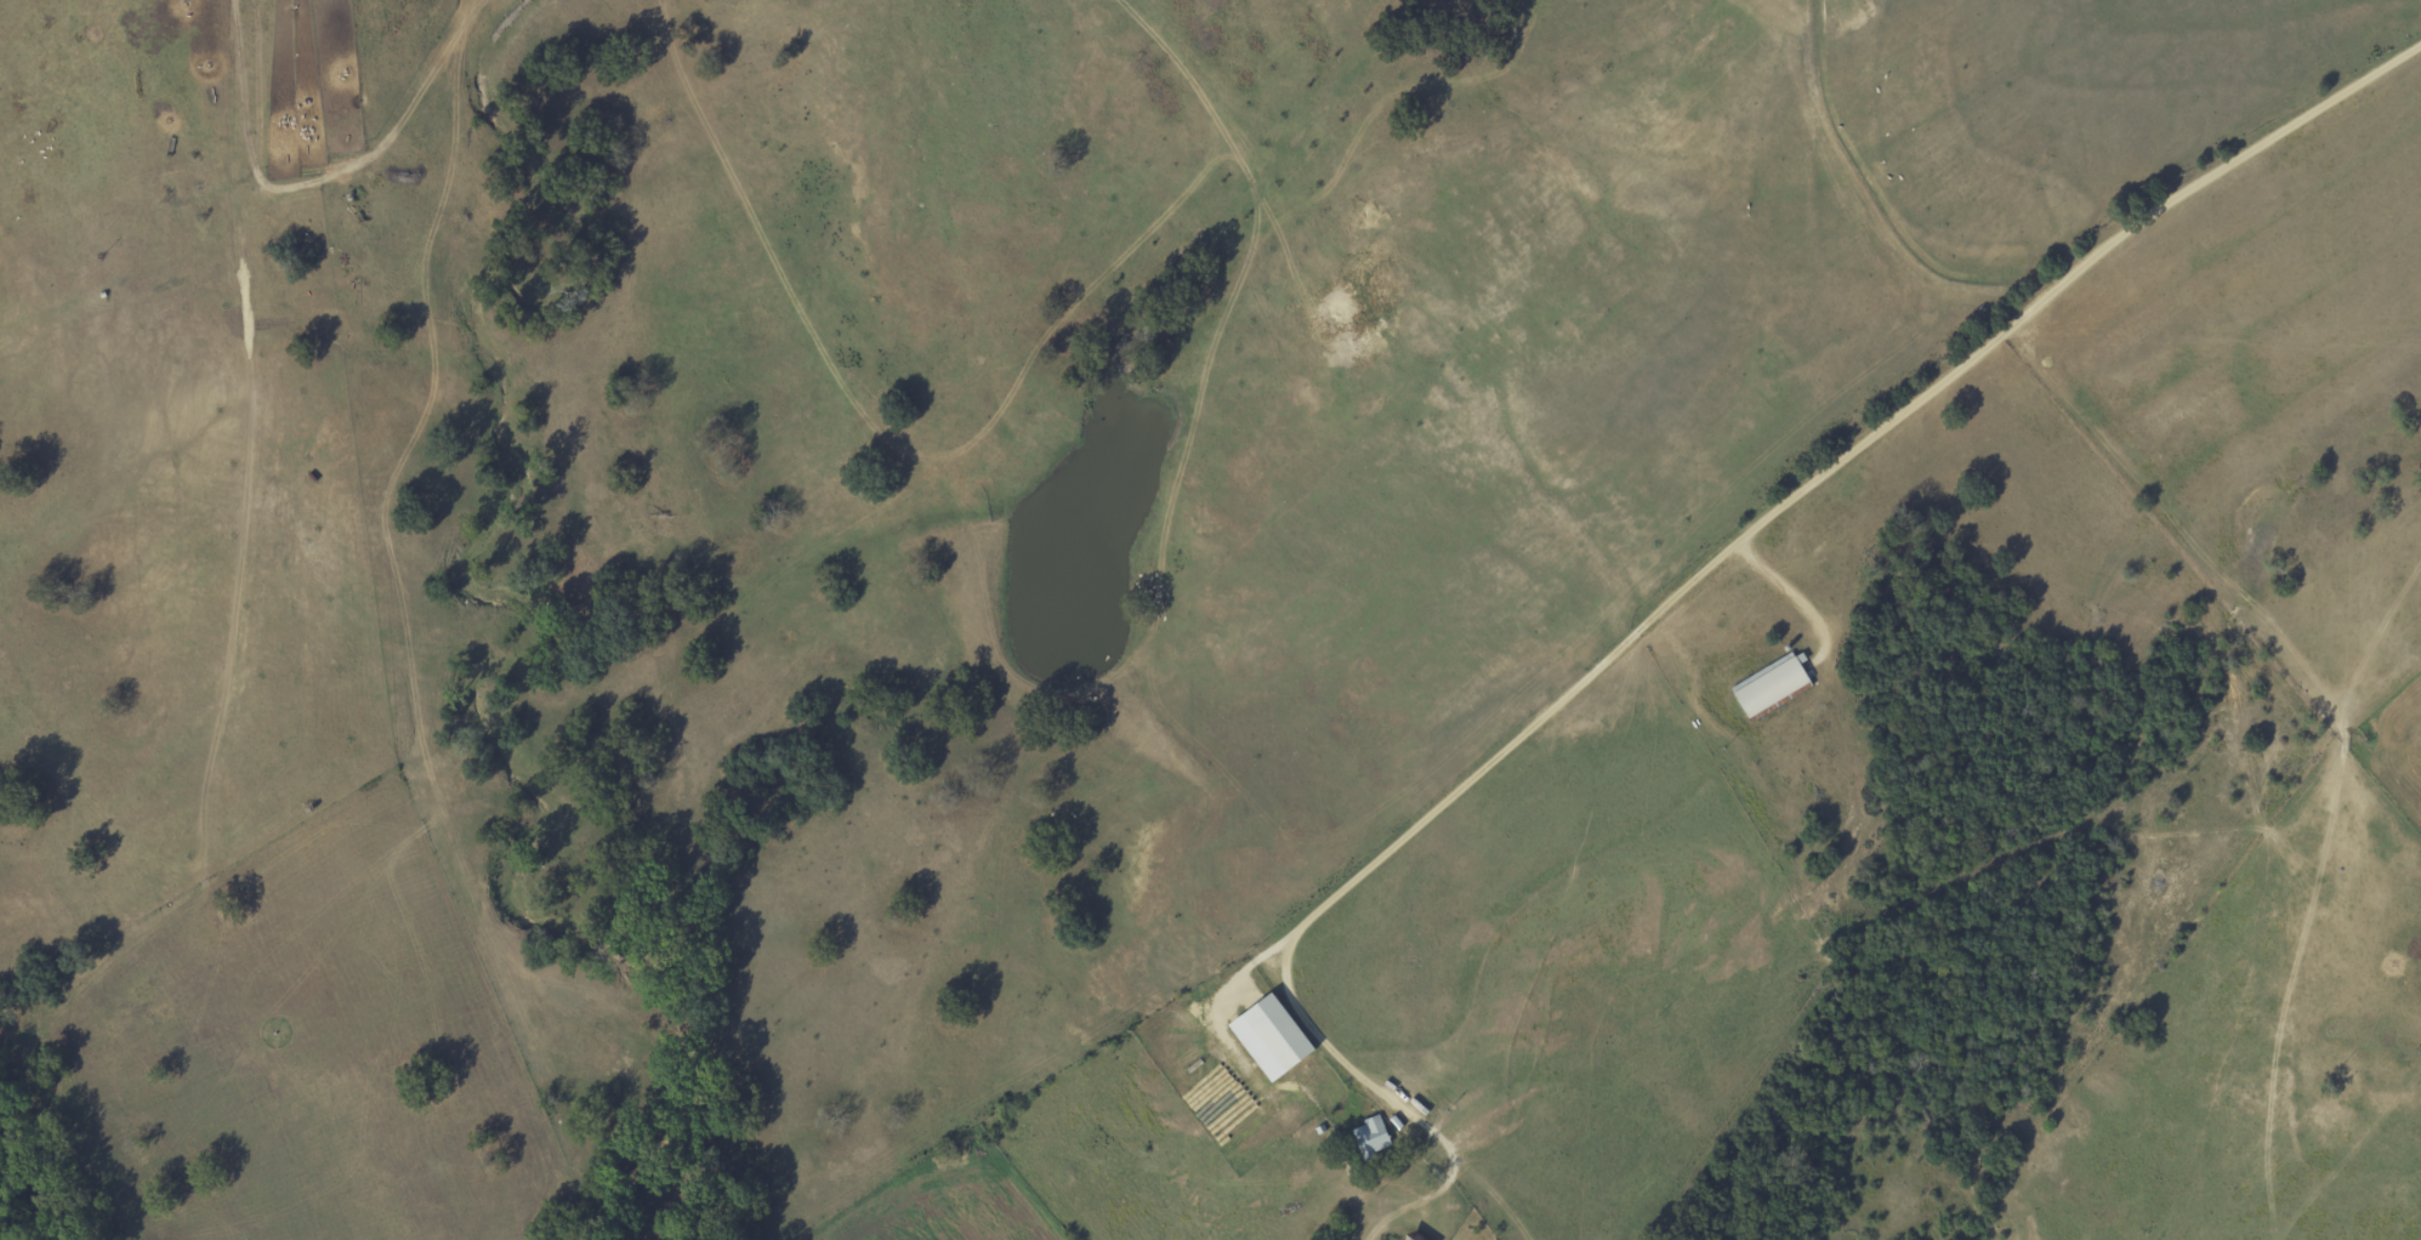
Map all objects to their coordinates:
road: (959, 453)
road: (1763, 522)
road: (1784, 595)
building: (1772, 684)
building: (1275, 1037)
building: (1373, 1138)

